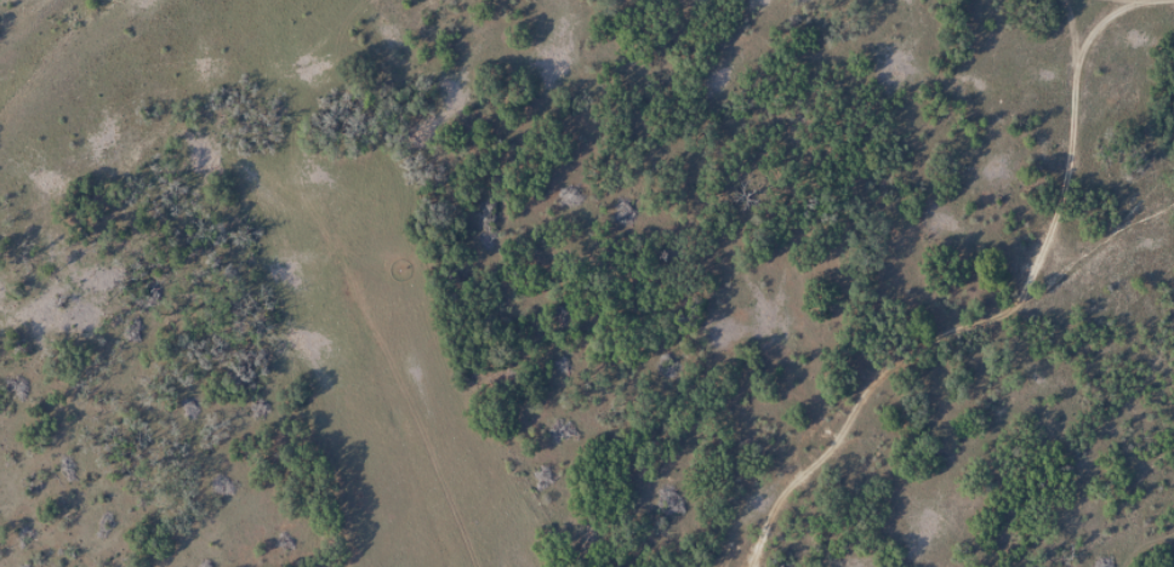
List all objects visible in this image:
road: (988, 321)

